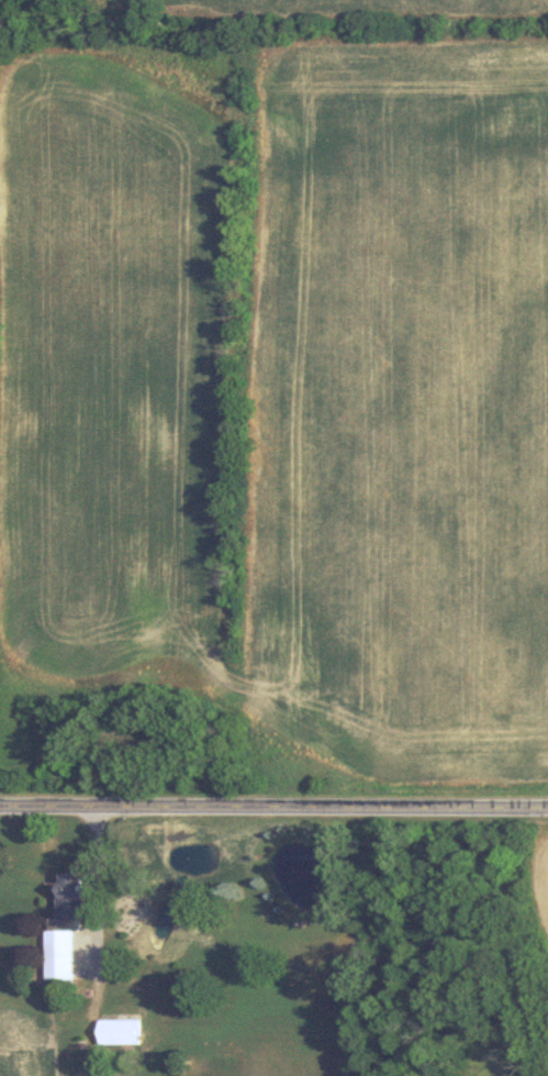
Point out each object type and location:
road: (273, 809)
building: (64, 927)
building: (119, 1031)

